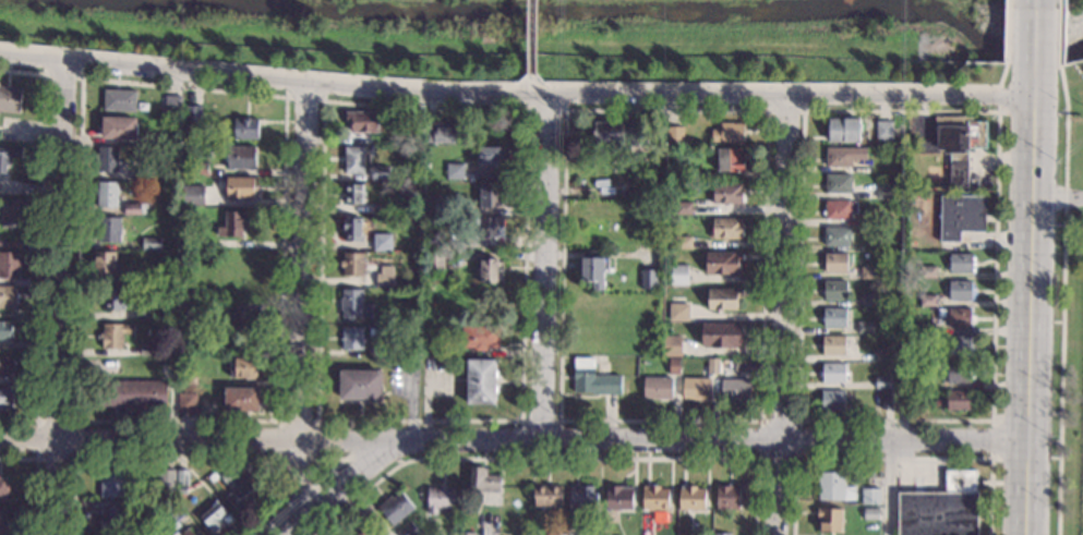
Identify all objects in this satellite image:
river: (627, 12)
road: (1007, 32)
road: (1059, 33)
road: (531, 37)
road: (1031, 38)
park: (1070, 38)
park: (543, 40)
road: (1002, 74)
road: (61, 77)
road: (530, 81)
road: (1063, 88)
road: (514, 95)
building: (9, 99)
building: (119, 100)
road: (303, 100)
building: (173, 105)
road: (532, 112)
road: (784, 112)
road: (1018, 112)
building: (193, 114)
building: (361, 121)
building: (118, 127)
building: (245, 129)
building: (841, 131)
building: (883, 132)
building: (441, 133)
building: (727, 134)
building: (673, 136)
building: (626, 137)
building: (959, 146)
building: (9, 157)
building: (843, 157)
building: (240, 158)
building: (489, 158)
building: (107, 159)
building: (352, 160)
building: (729, 160)
building: (198, 169)
building: (454, 172)
building: (380, 173)
building: (139, 174)
building: (837, 185)
building: (239, 189)
building: (885, 191)
building: (353, 194)
building: (106, 195)
building: (726, 195)
building: (194, 196)
building: (489, 196)
road: (1056, 197)
building: (434, 206)
building: (134, 209)
building: (380, 209)
building: (682, 209)
building: (837, 210)
building: (12, 211)
building: (959, 217)
building: (232, 226)
building: (489, 228)
building: (725, 229)
building: (352, 230)
building: (109, 231)
building: (835, 236)
building: (380, 242)
building: (434, 242)
building: (682, 243)
road: (39, 244)
building: (149, 245)
building: (205, 262)
building: (104, 263)
building: (433, 263)
building: (722, 264)
building: (834, 264)
building: (351, 265)
building: (960, 265)
building: (9, 266)
road: (542, 268)
building: (592, 271)
building: (489, 272)
building: (868, 273)
building: (926, 273)
building: (232, 276)
building: (677, 276)
building: (384, 278)
building: (648, 280)
building: (833, 291)
building: (960, 291)
building: (8, 297)
building: (117, 297)
road: (60, 300)
building: (722, 300)
building: (868, 301)
building: (926, 301)
road: (300, 302)
building: (353, 305)
road: (1027, 306)
building: (188, 312)
building: (677, 313)
building: (147, 314)
road: (783, 317)
building: (231, 318)
building: (833, 318)
building: (959, 318)
road: (1061, 324)
building: (864, 328)
building: (926, 330)
building: (5, 331)
building: (372, 331)
building: (428, 333)
building: (113, 336)
building: (719, 336)
building: (479, 337)
building: (351, 339)
building: (958, 345)
building: (671, 346)
building: (832, 346)
building: (147, 349)
building: (882, 355)
building: (5, 366)
building: (673, 366)
building: (741, 366)
building: (712, 367)
building: (243, 368)
building: (832, 374)
building: (955, 374)
building: (592, 379)
building: (188, 381)
building: (480, 382)
building: (882, 384)
building: (360, 386)
building: (657, 389)
building: (696, 390)
building: (734, 391)
building: (132, 396)
building: (4, 399)
building: (241, 400)
building: (831, 401)
building: (882, 401)
building: (902, 401)
building: (956, 401)
building: (186, 403)
road: (991, 420)
road: (515, 421)
road: (558, 421)
road: (760, 421)
road: (269, 422)
road: (513, 440)
road: (990, 440)
road: (315, 459)
road: (561, 459)
road: (796, 459)
road: (73, 460)
road: (180, 460)
road: (372, 460)
road: (892, 460)
road: (332, 470)
building: (181, 477)
building: (165, 478)
road: (34, 479)
building: (481, 481)
building: (111, 484)
building: (833, 487)
road: (890, 487)
road: (336, 488)
building: (238, 489)
building: (3, 490)
building: (180, 491)
road: (303, 493)
building: (546, 497)
building: (868, 497)
building: (618, 498)
building: (654, 498)
building: (725, 498)
building: (581, 499)
building: (690, 499)
building: (438, 500)
road: (366, 507)
building: (142, 508)
building: (941, 508)
building: (395, 509)
building: (175, 511)
building: (869, 515)
building: (214, 516)
building: (108, 519)
building: (828, 521)
building: (3, 522)
building: (408, 530)
building: (142, 532)
building: (183, 532)
building: (359, 533)
building: (464, 534)
building: (556, 534)
building: (594, 534)
building: (722, 534)

